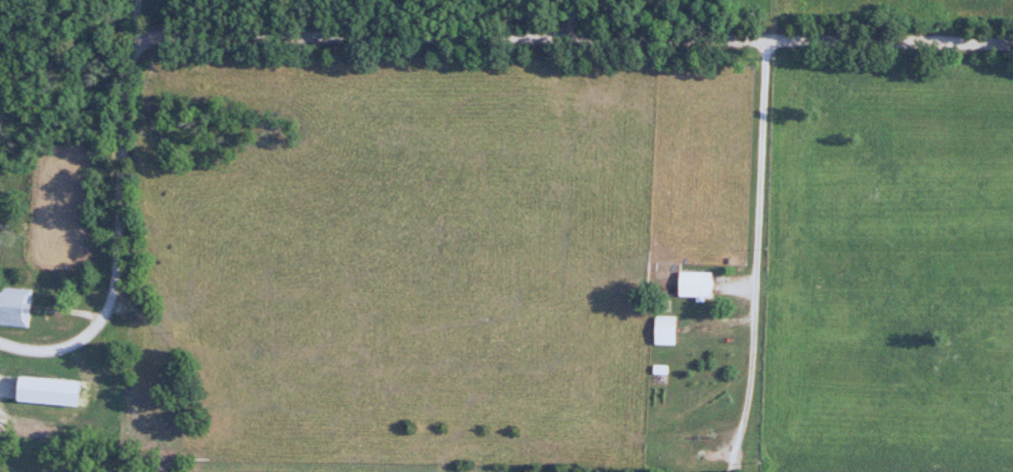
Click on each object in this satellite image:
road: (572, 19)
road: (134, 20)
road: (377, 37)
road: (752, 232)
building: (694, 283)
building: (15, 306)
building: (664, 330)

